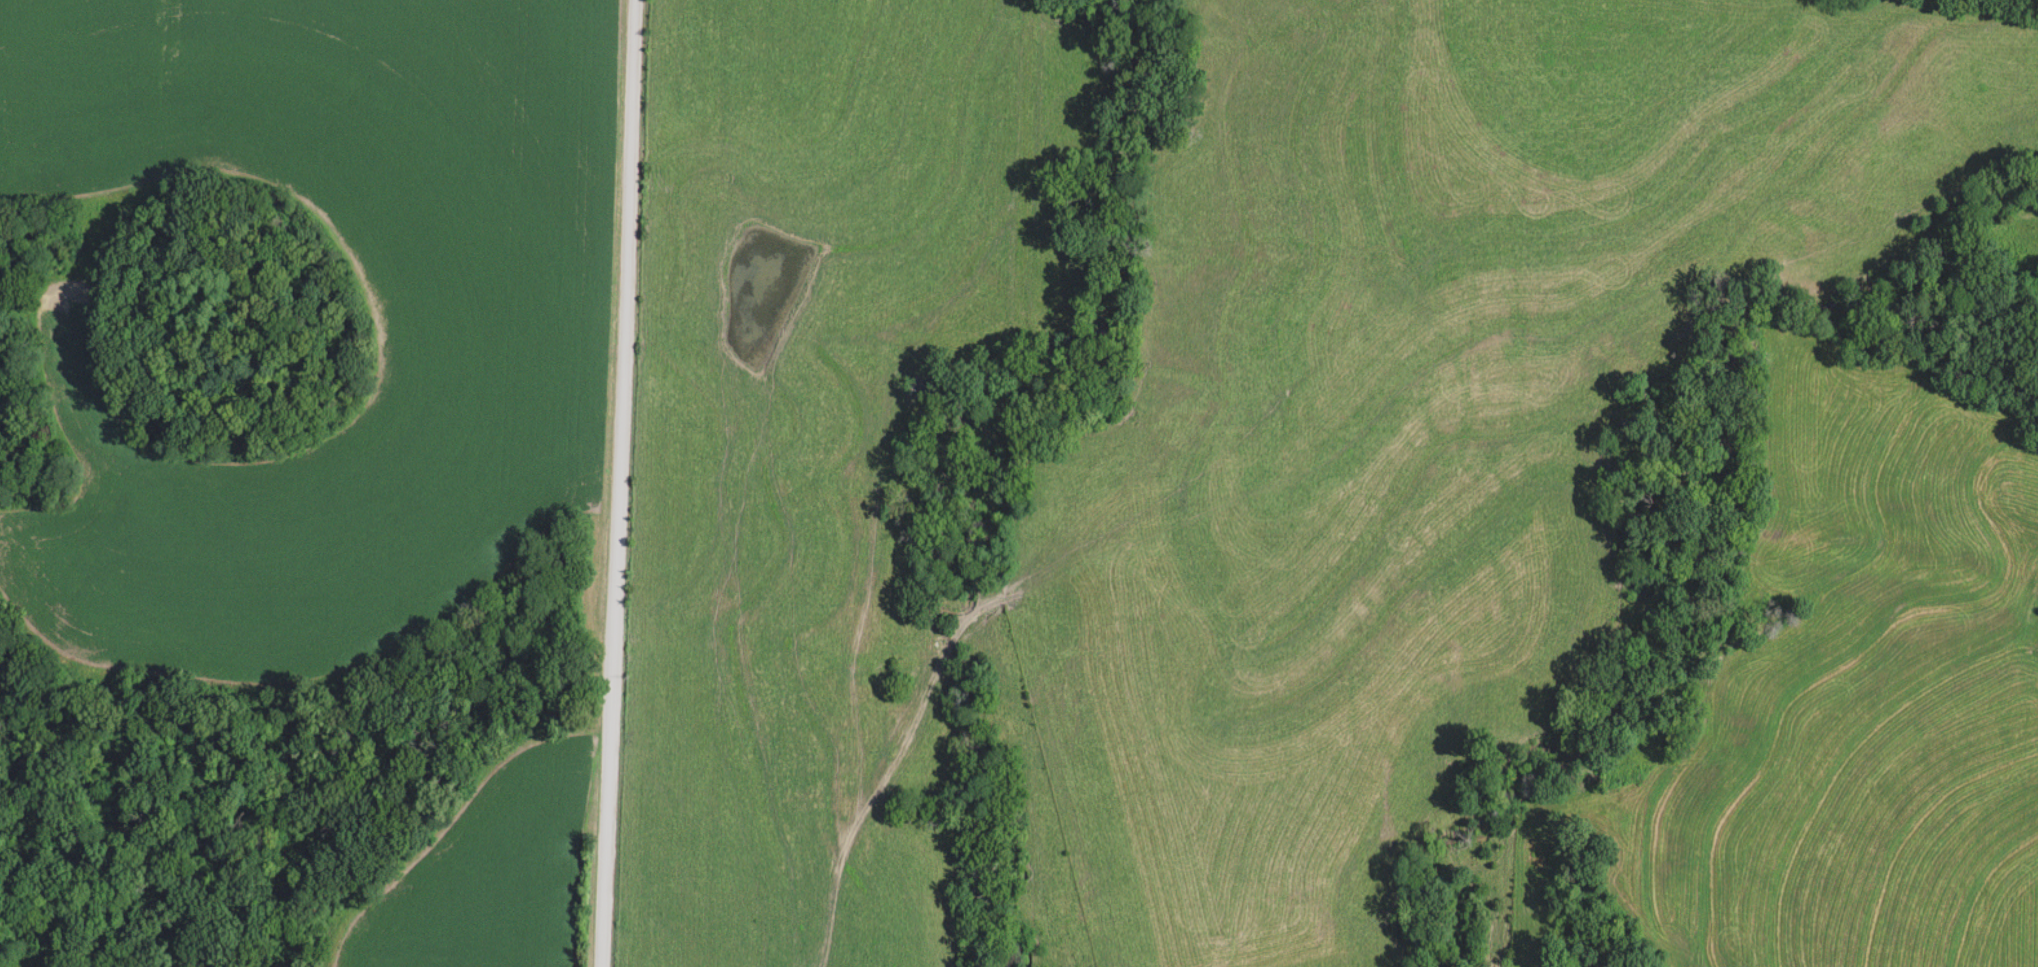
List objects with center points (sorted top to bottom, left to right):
road: (613, 483)

